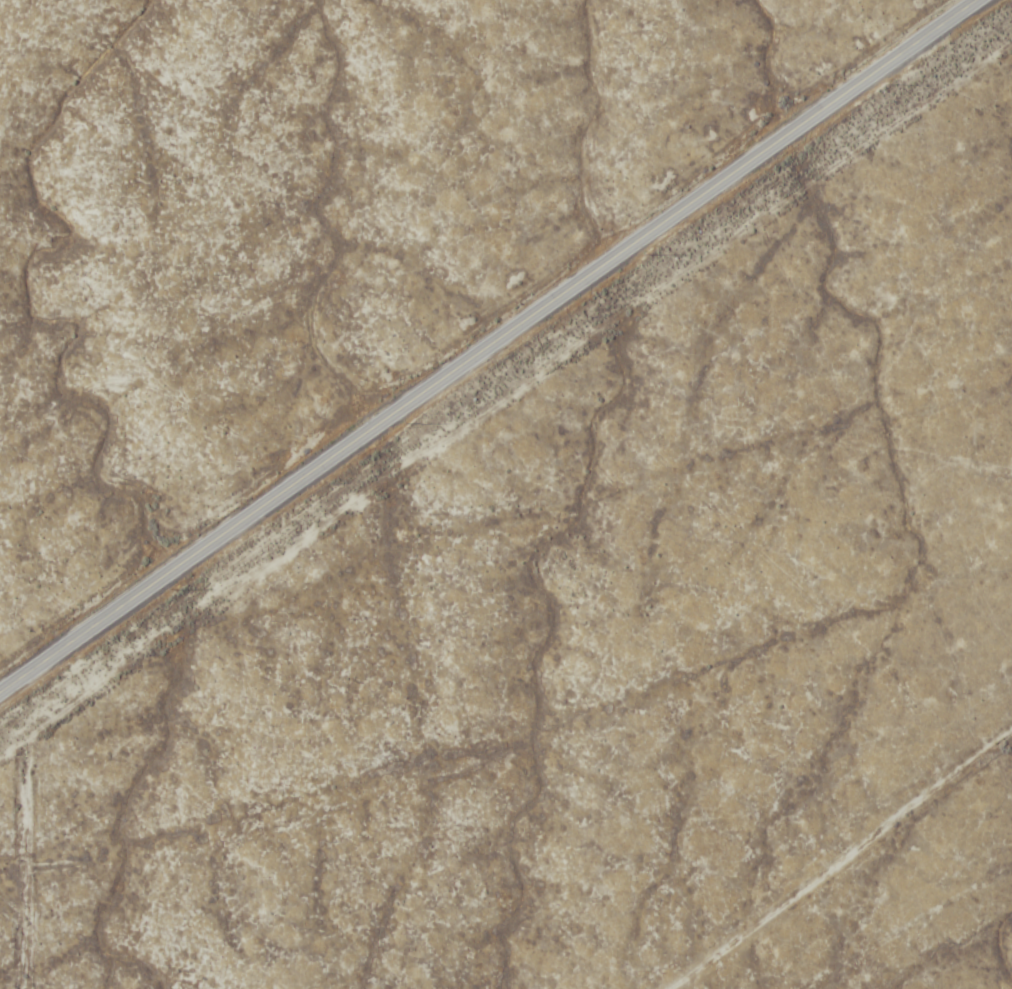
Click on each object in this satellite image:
road: (703, 191)
road: (216, 537)
road: (849, 867)

